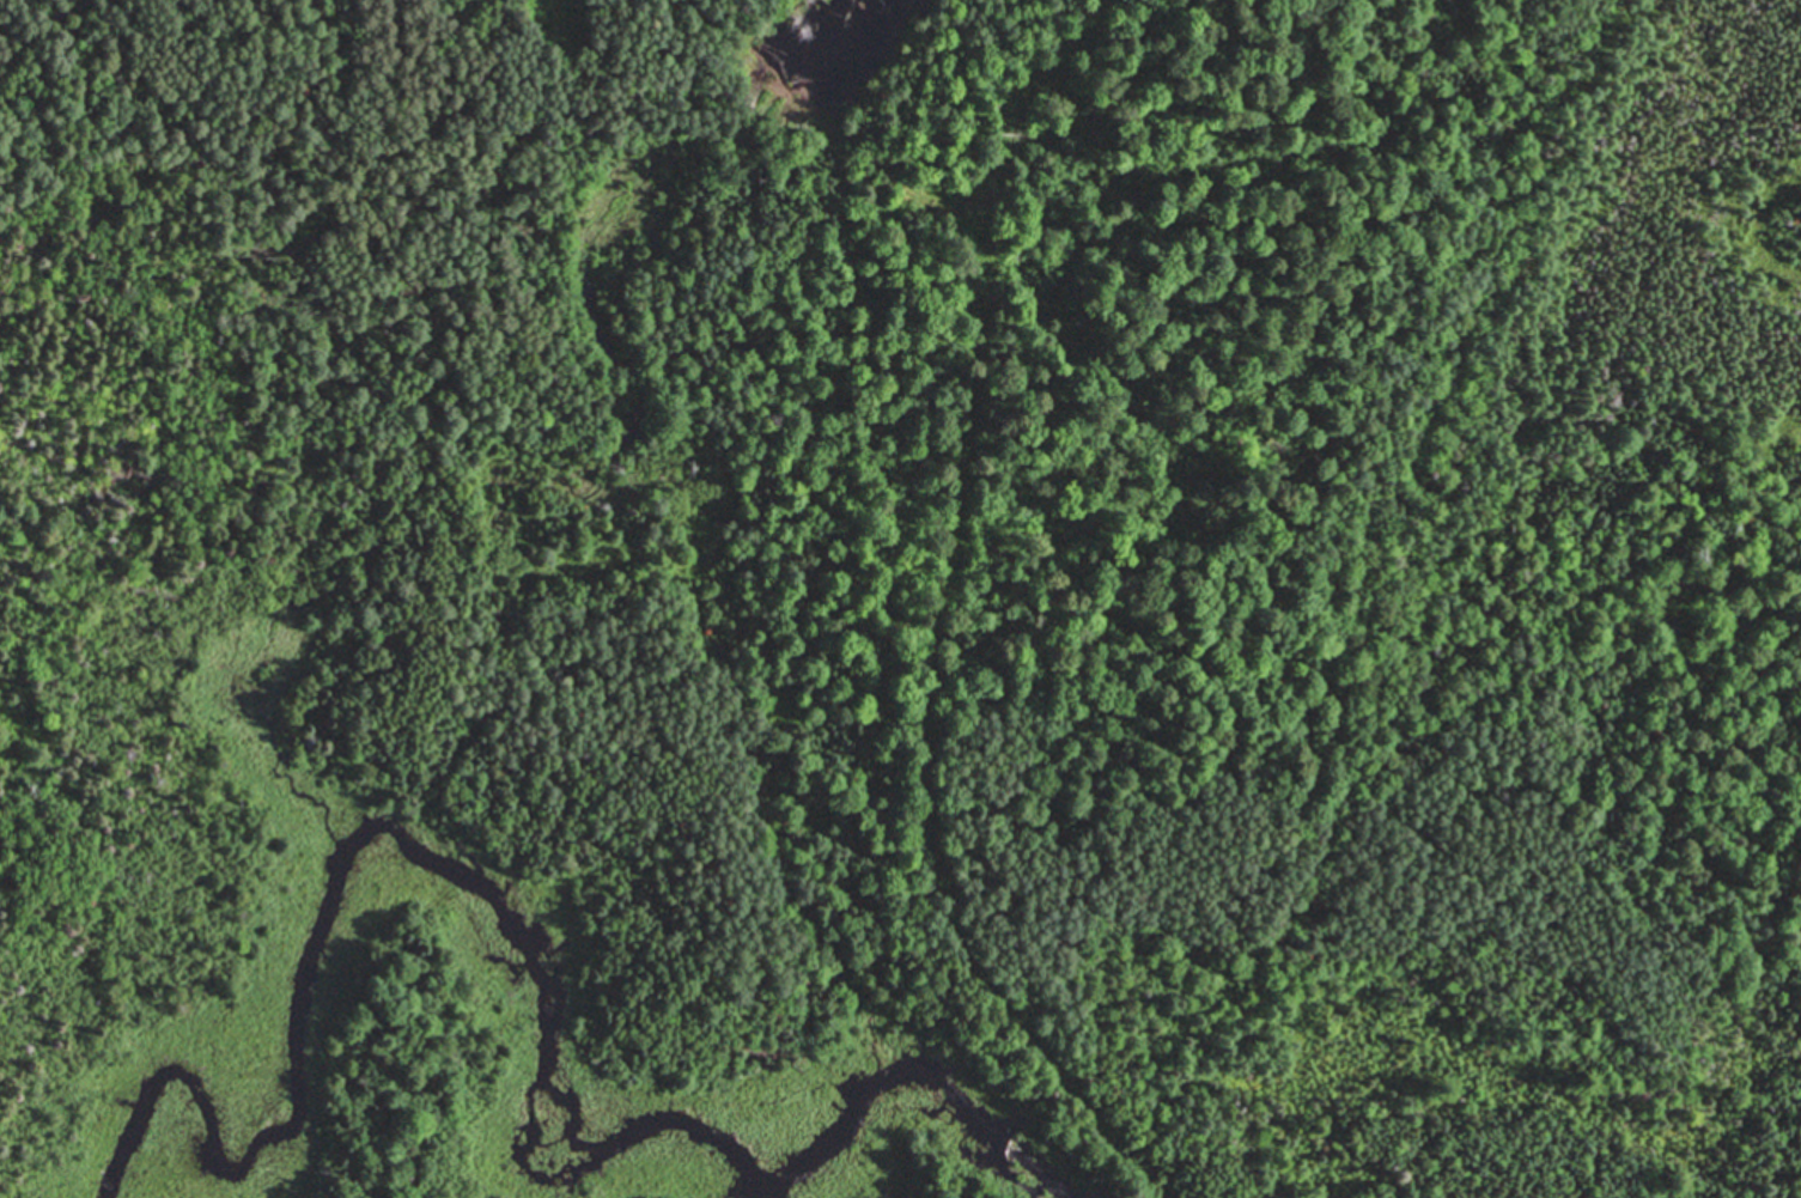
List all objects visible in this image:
road: (41, 39)
river: (656, 1126)
river: (261, 1138)

